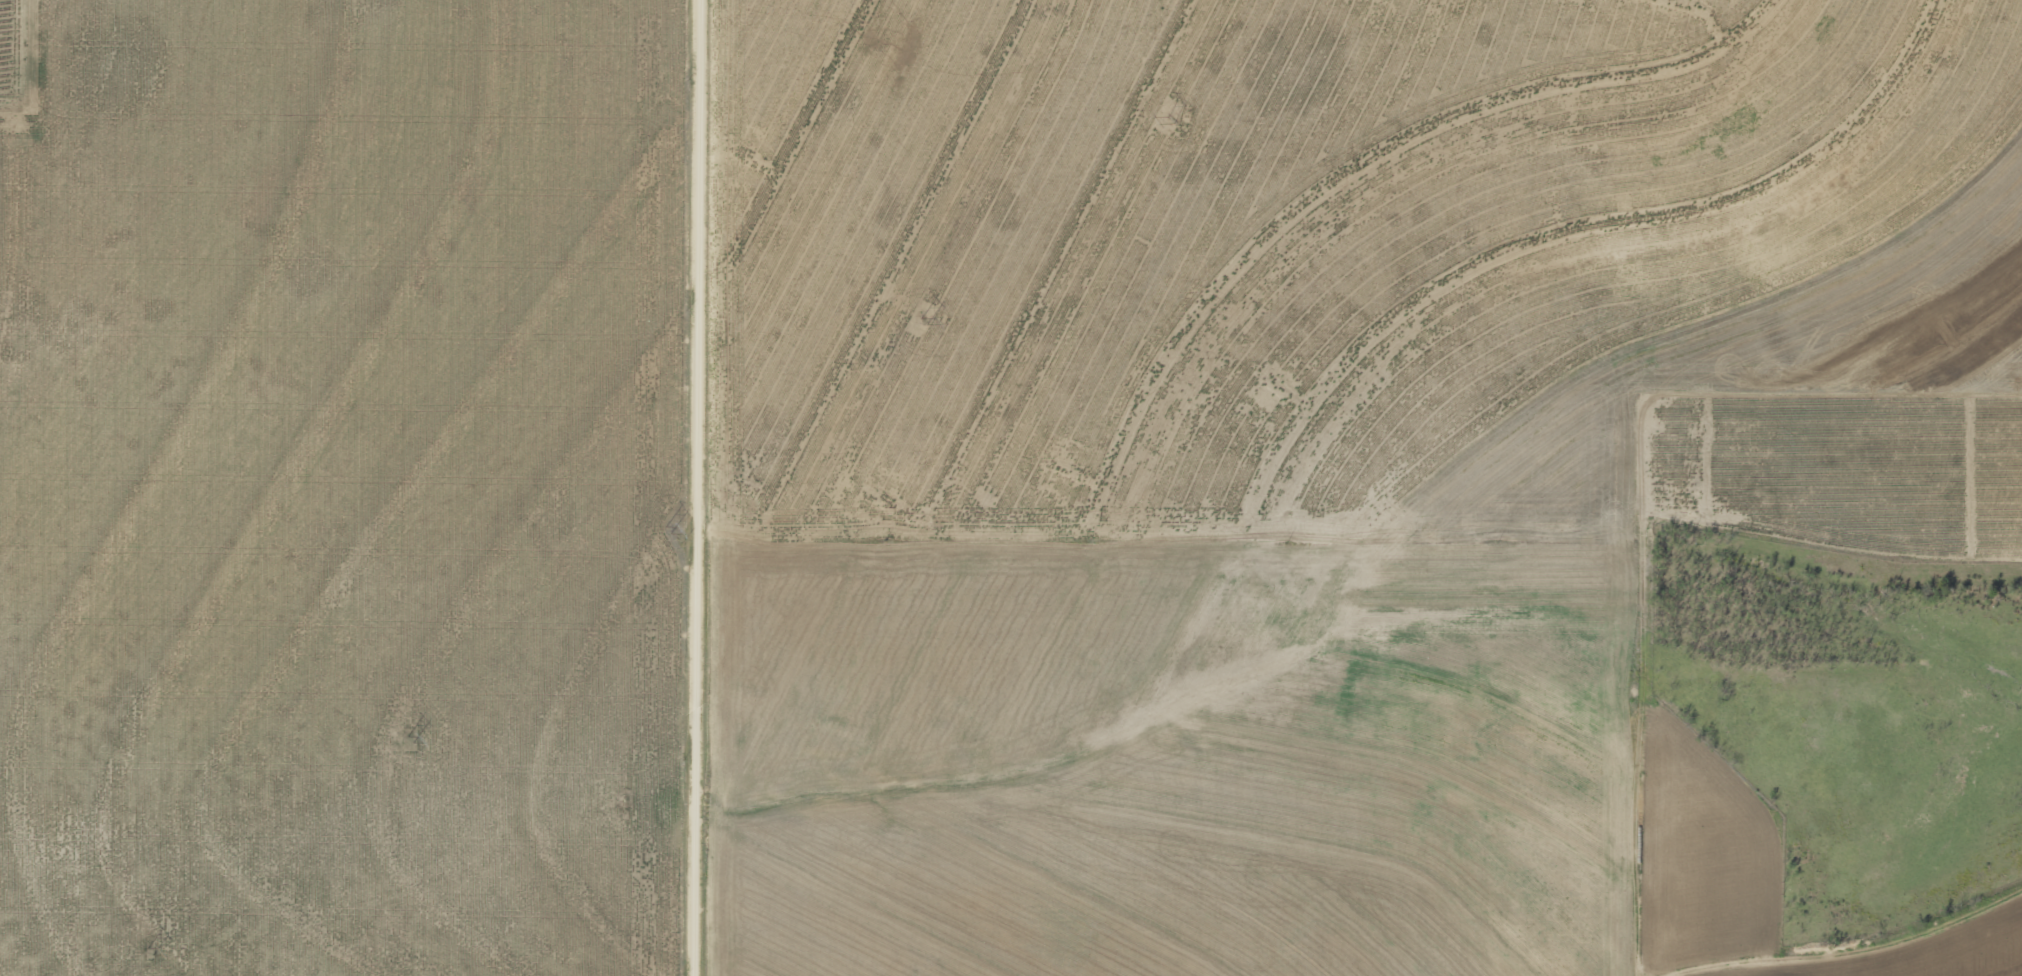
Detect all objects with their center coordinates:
power tower: (1162, 119)
power tower: (912, 321)
road: (710, 488)
power tower: (662, 531)
power tower: (410, 739)
road: (1929, 949)
power tower: (149, 954)

